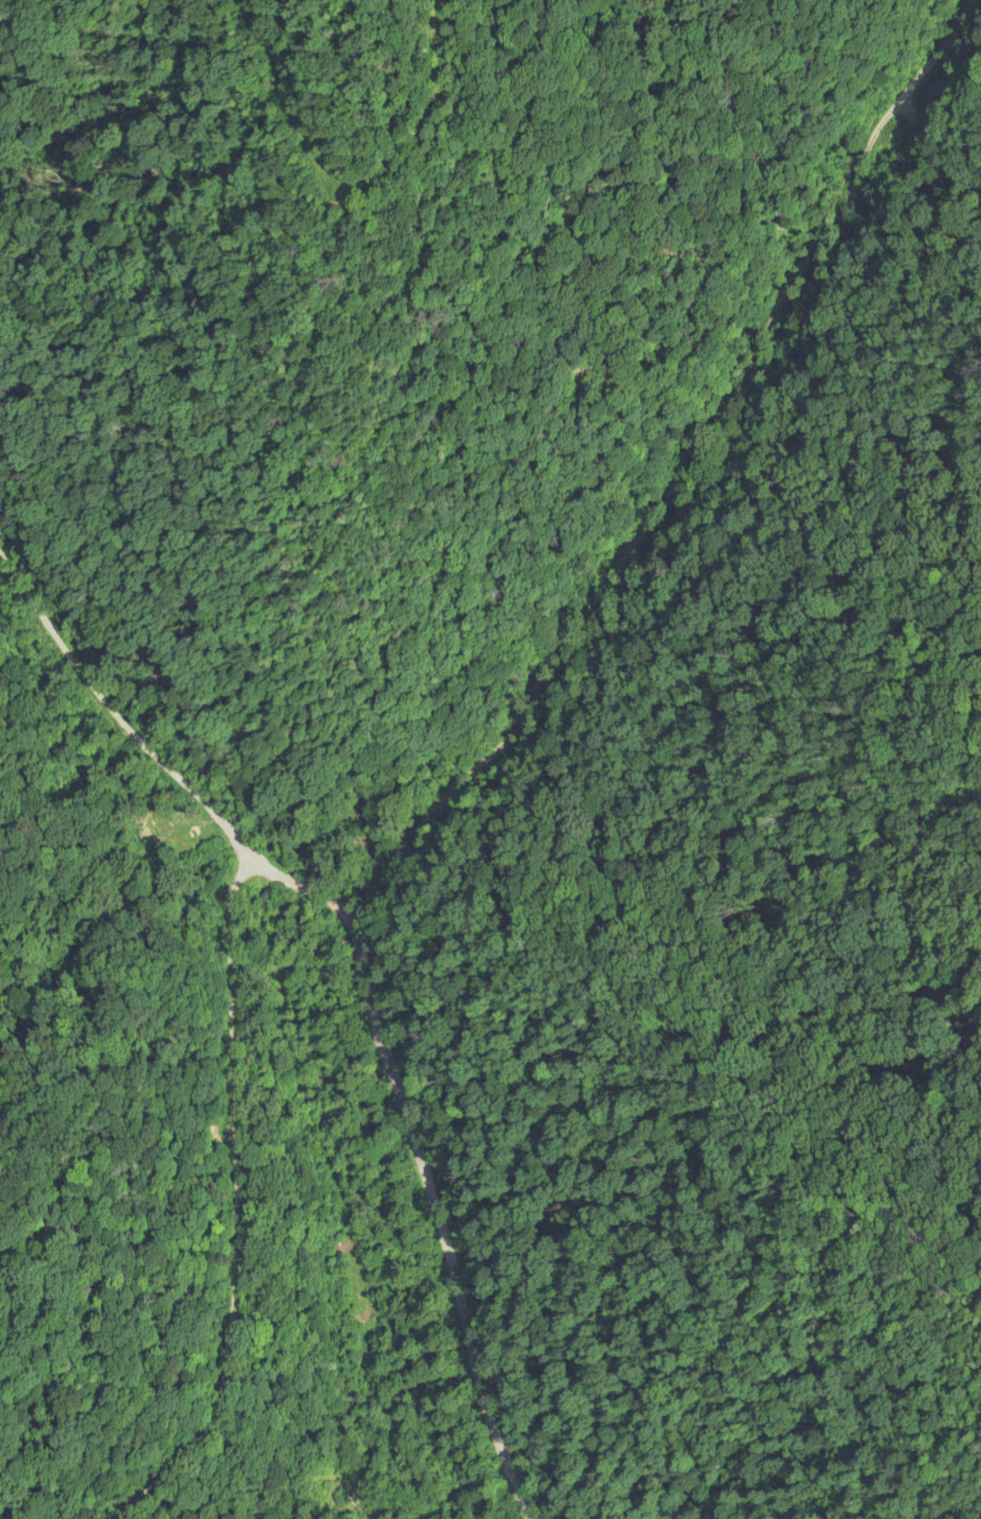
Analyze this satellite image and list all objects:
road: (475, 1366)

